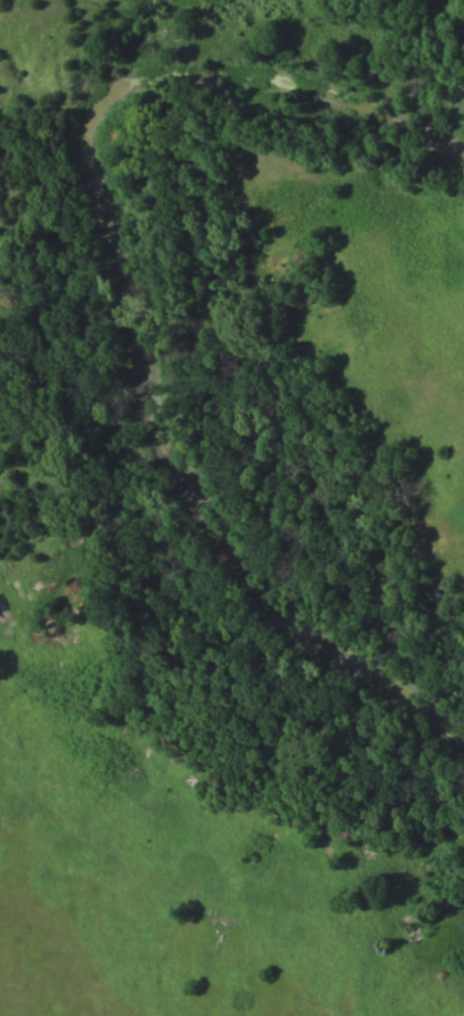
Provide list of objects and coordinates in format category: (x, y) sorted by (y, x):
park: (232, 508)

